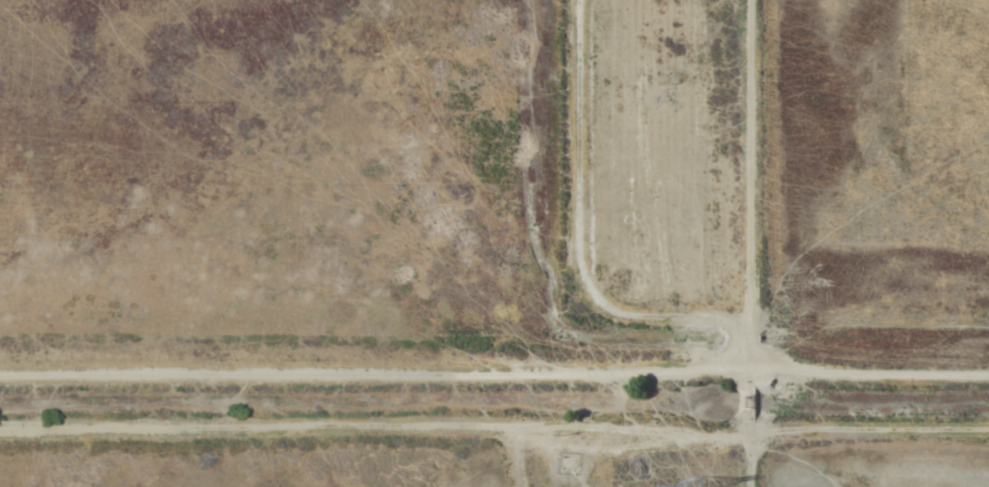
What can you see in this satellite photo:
road: (669, 187)
crop: (494, 243)
road: (872, 367)
road: (494, 420)
power tower: (698, 485)

